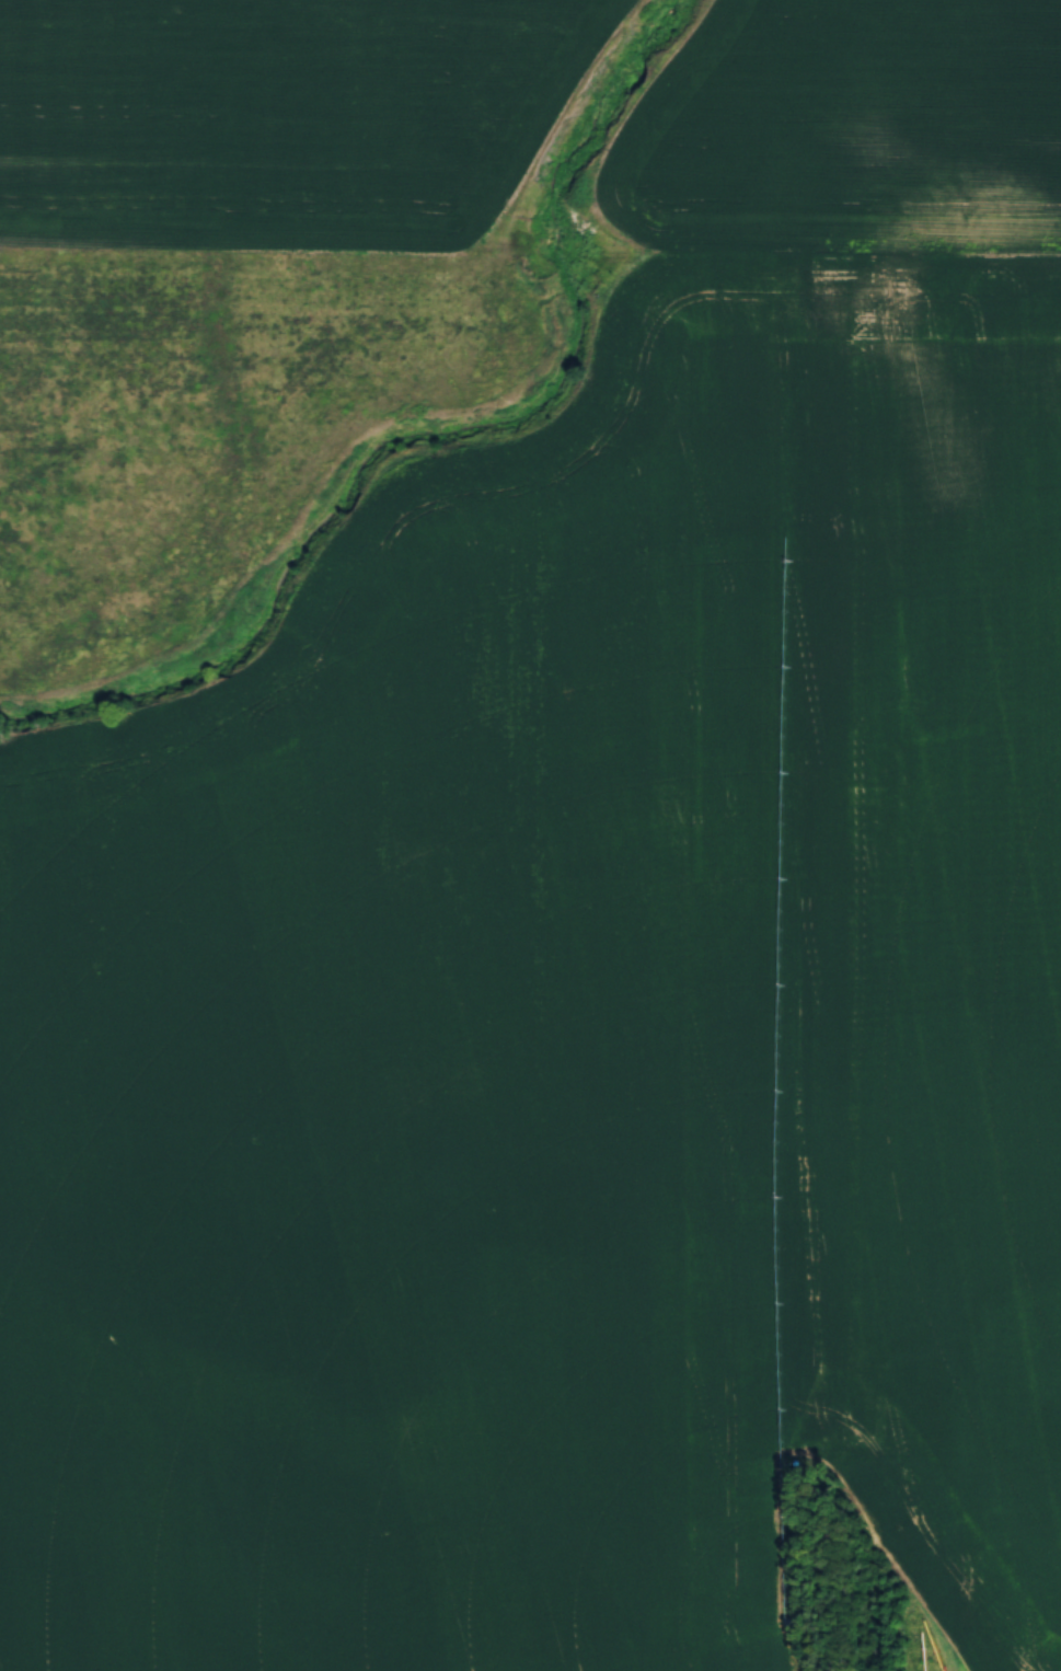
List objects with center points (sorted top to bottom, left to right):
river: (448, 440)

